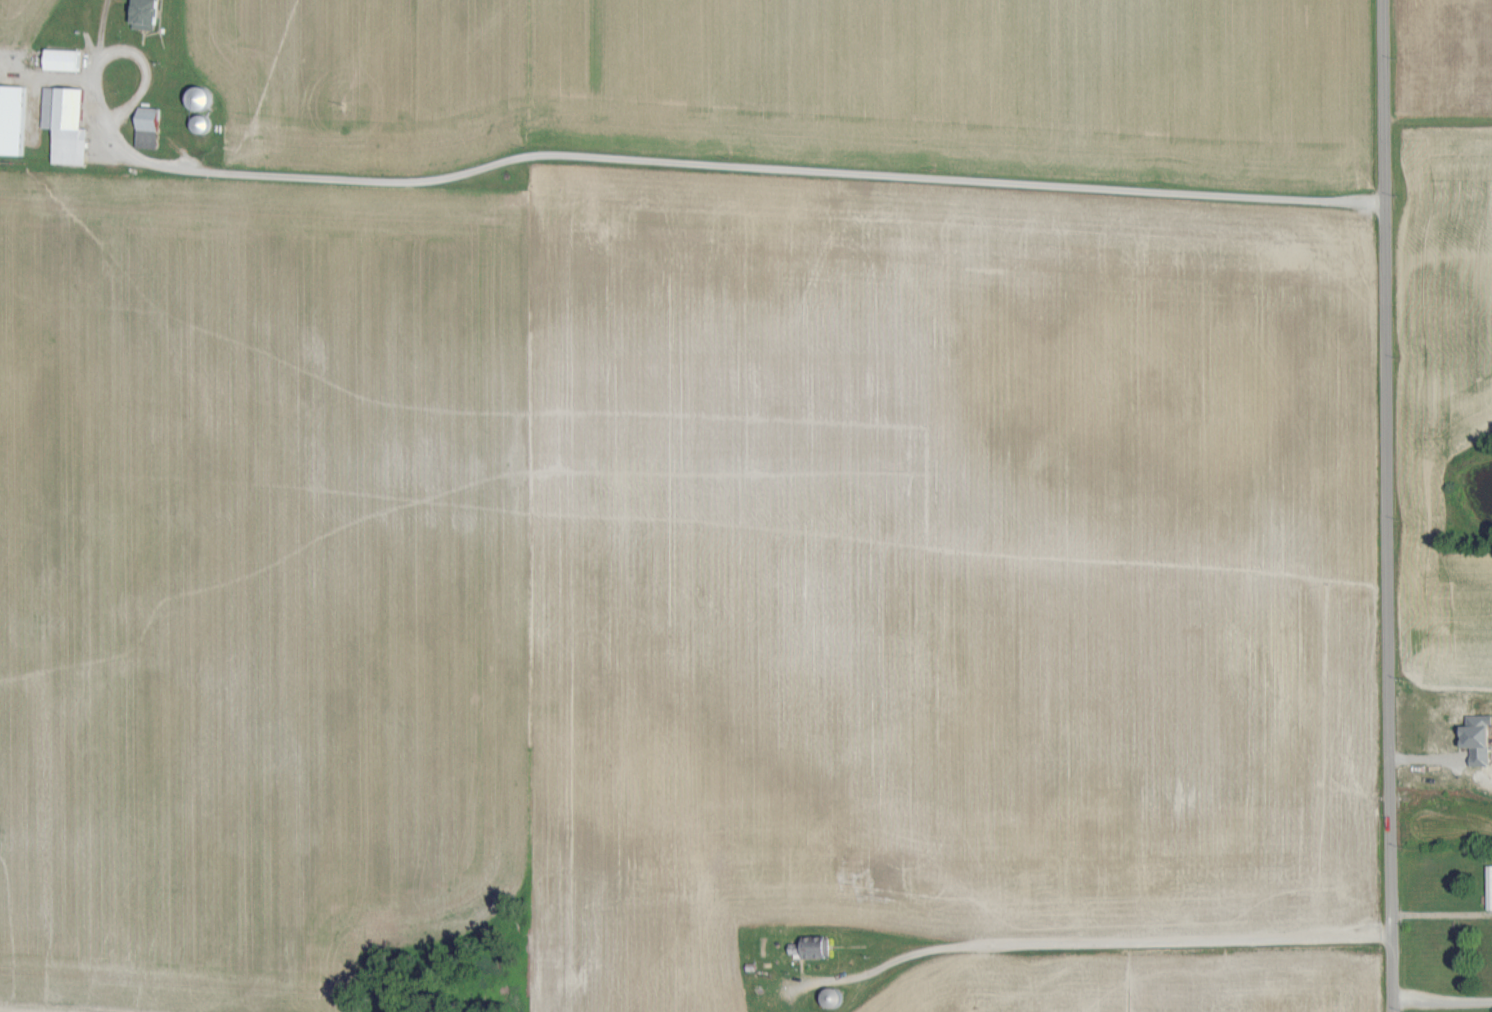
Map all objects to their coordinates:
building: (149, 13)
building: (66, 57)
road: (99, 81)
building: (14, 117)
building: (69, 121)
building: (152, 124)
road: (732, 167)
road: (1386, 505)
building: (1480, 737)
building: (1490, 884)
road: (1101, 947)
building: (812, 948)
road: (1440, 1004)

